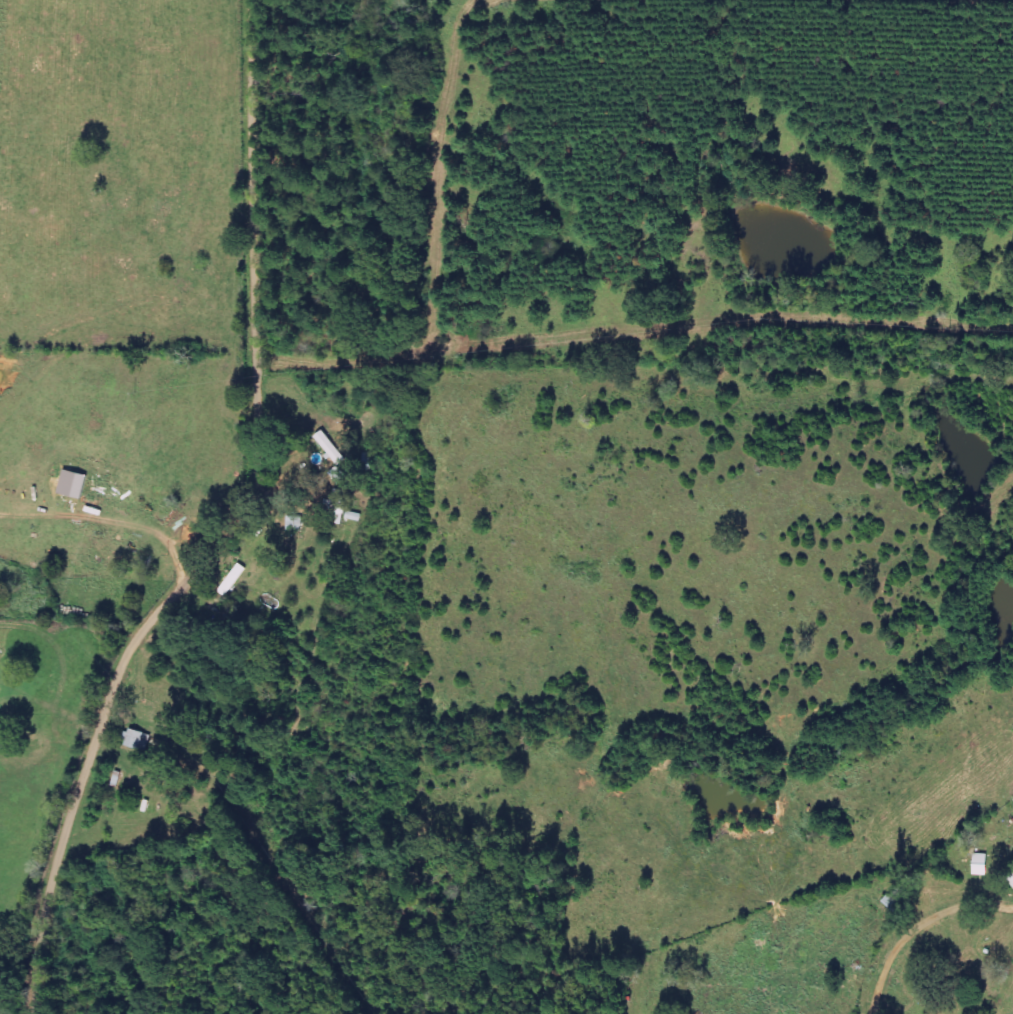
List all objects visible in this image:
road: (512, 354)
building: (331, 449)
road: (234, 532)
building: (137, 740)

